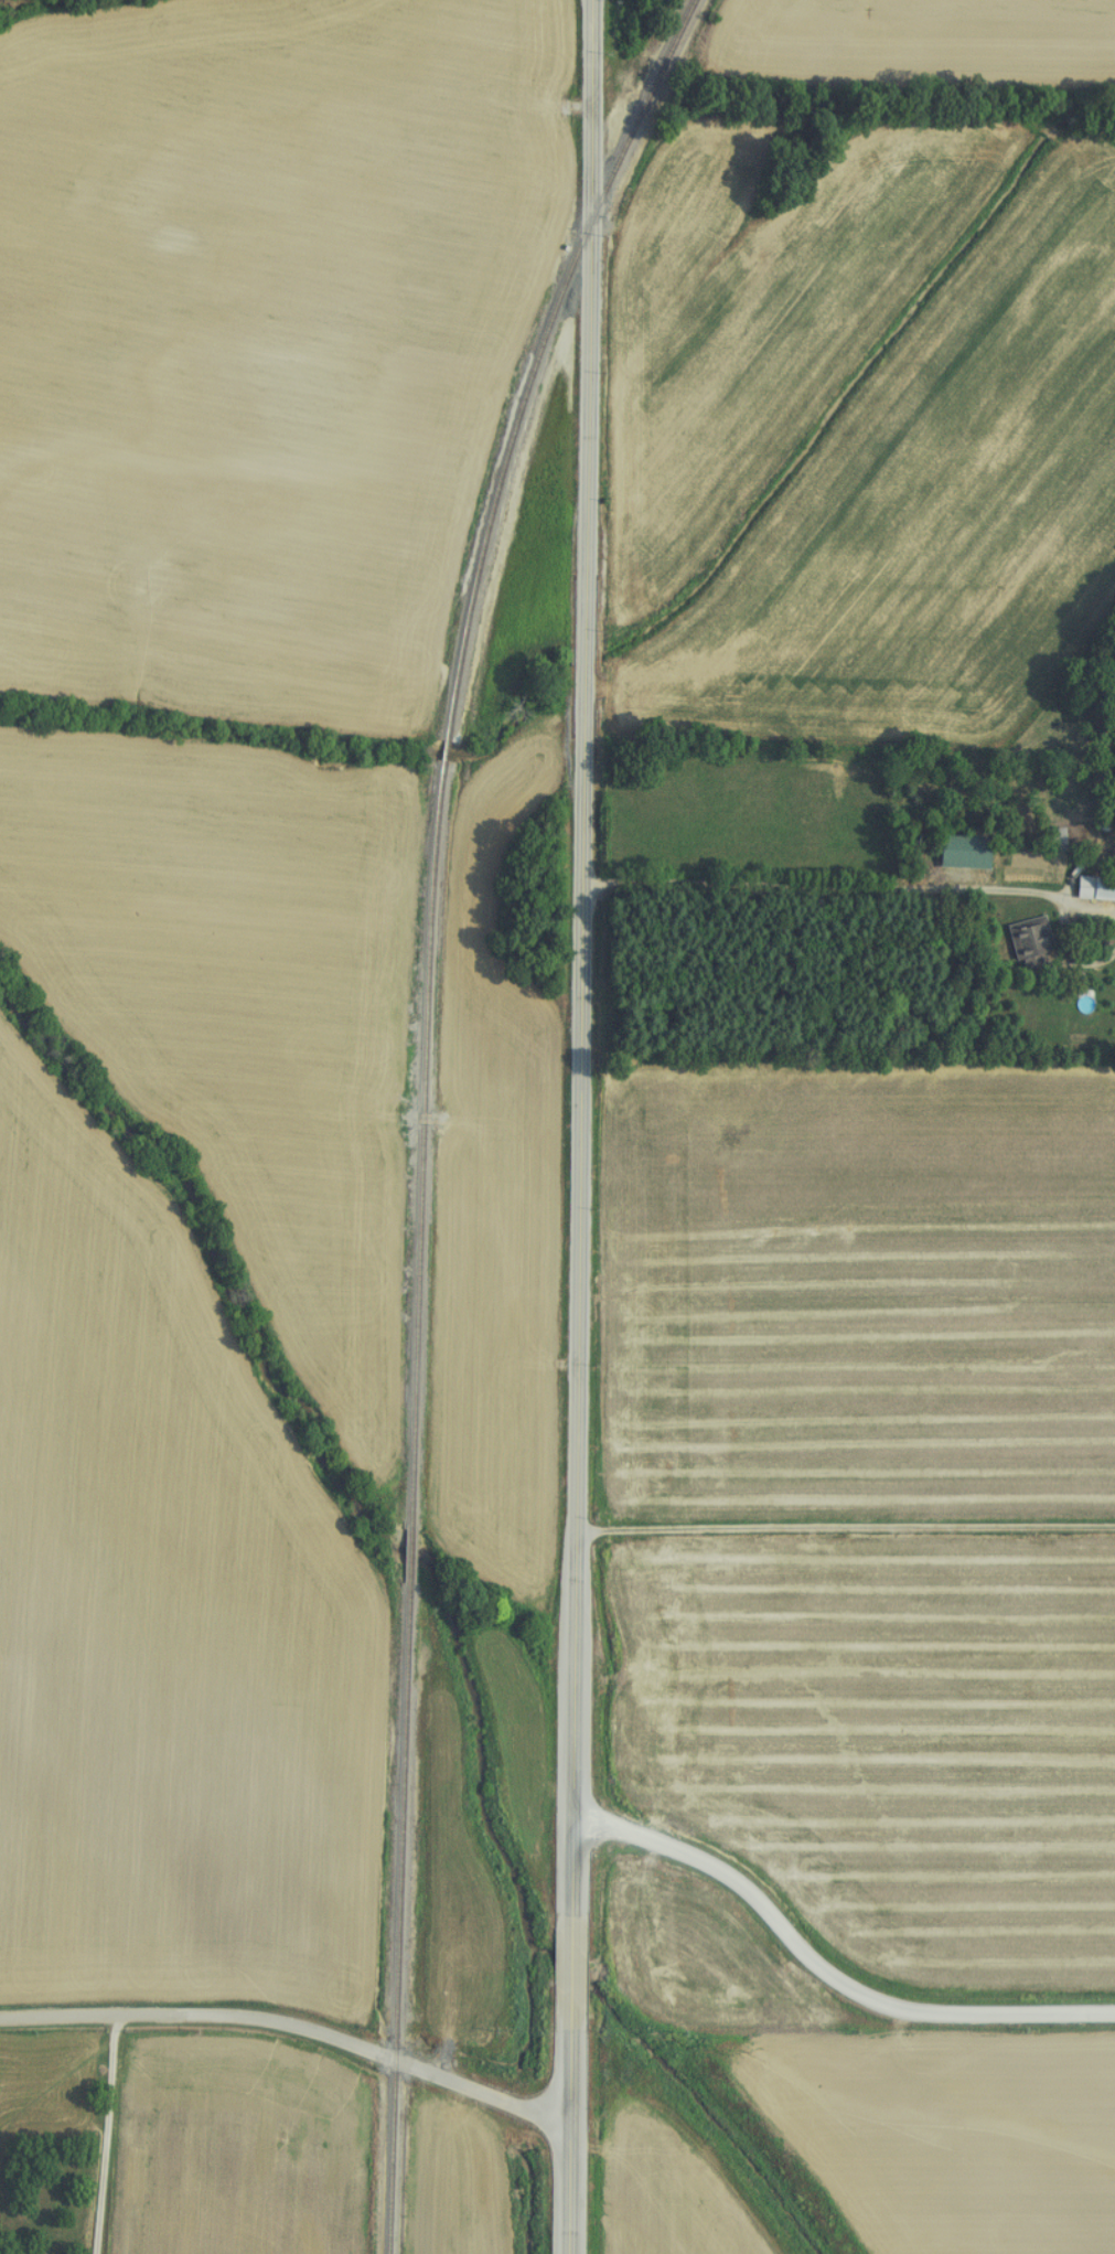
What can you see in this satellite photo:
railway: (537, 357)
railway: (443, 746)
road: (824, 887)
building: (1092, 888)
building: (1025, 944)
road: (581, 1126)
railway: (406, 1505)
road: (847, 1529)
road: (825, 1968)
road: (292, 2026)
road: (108, 2135)

